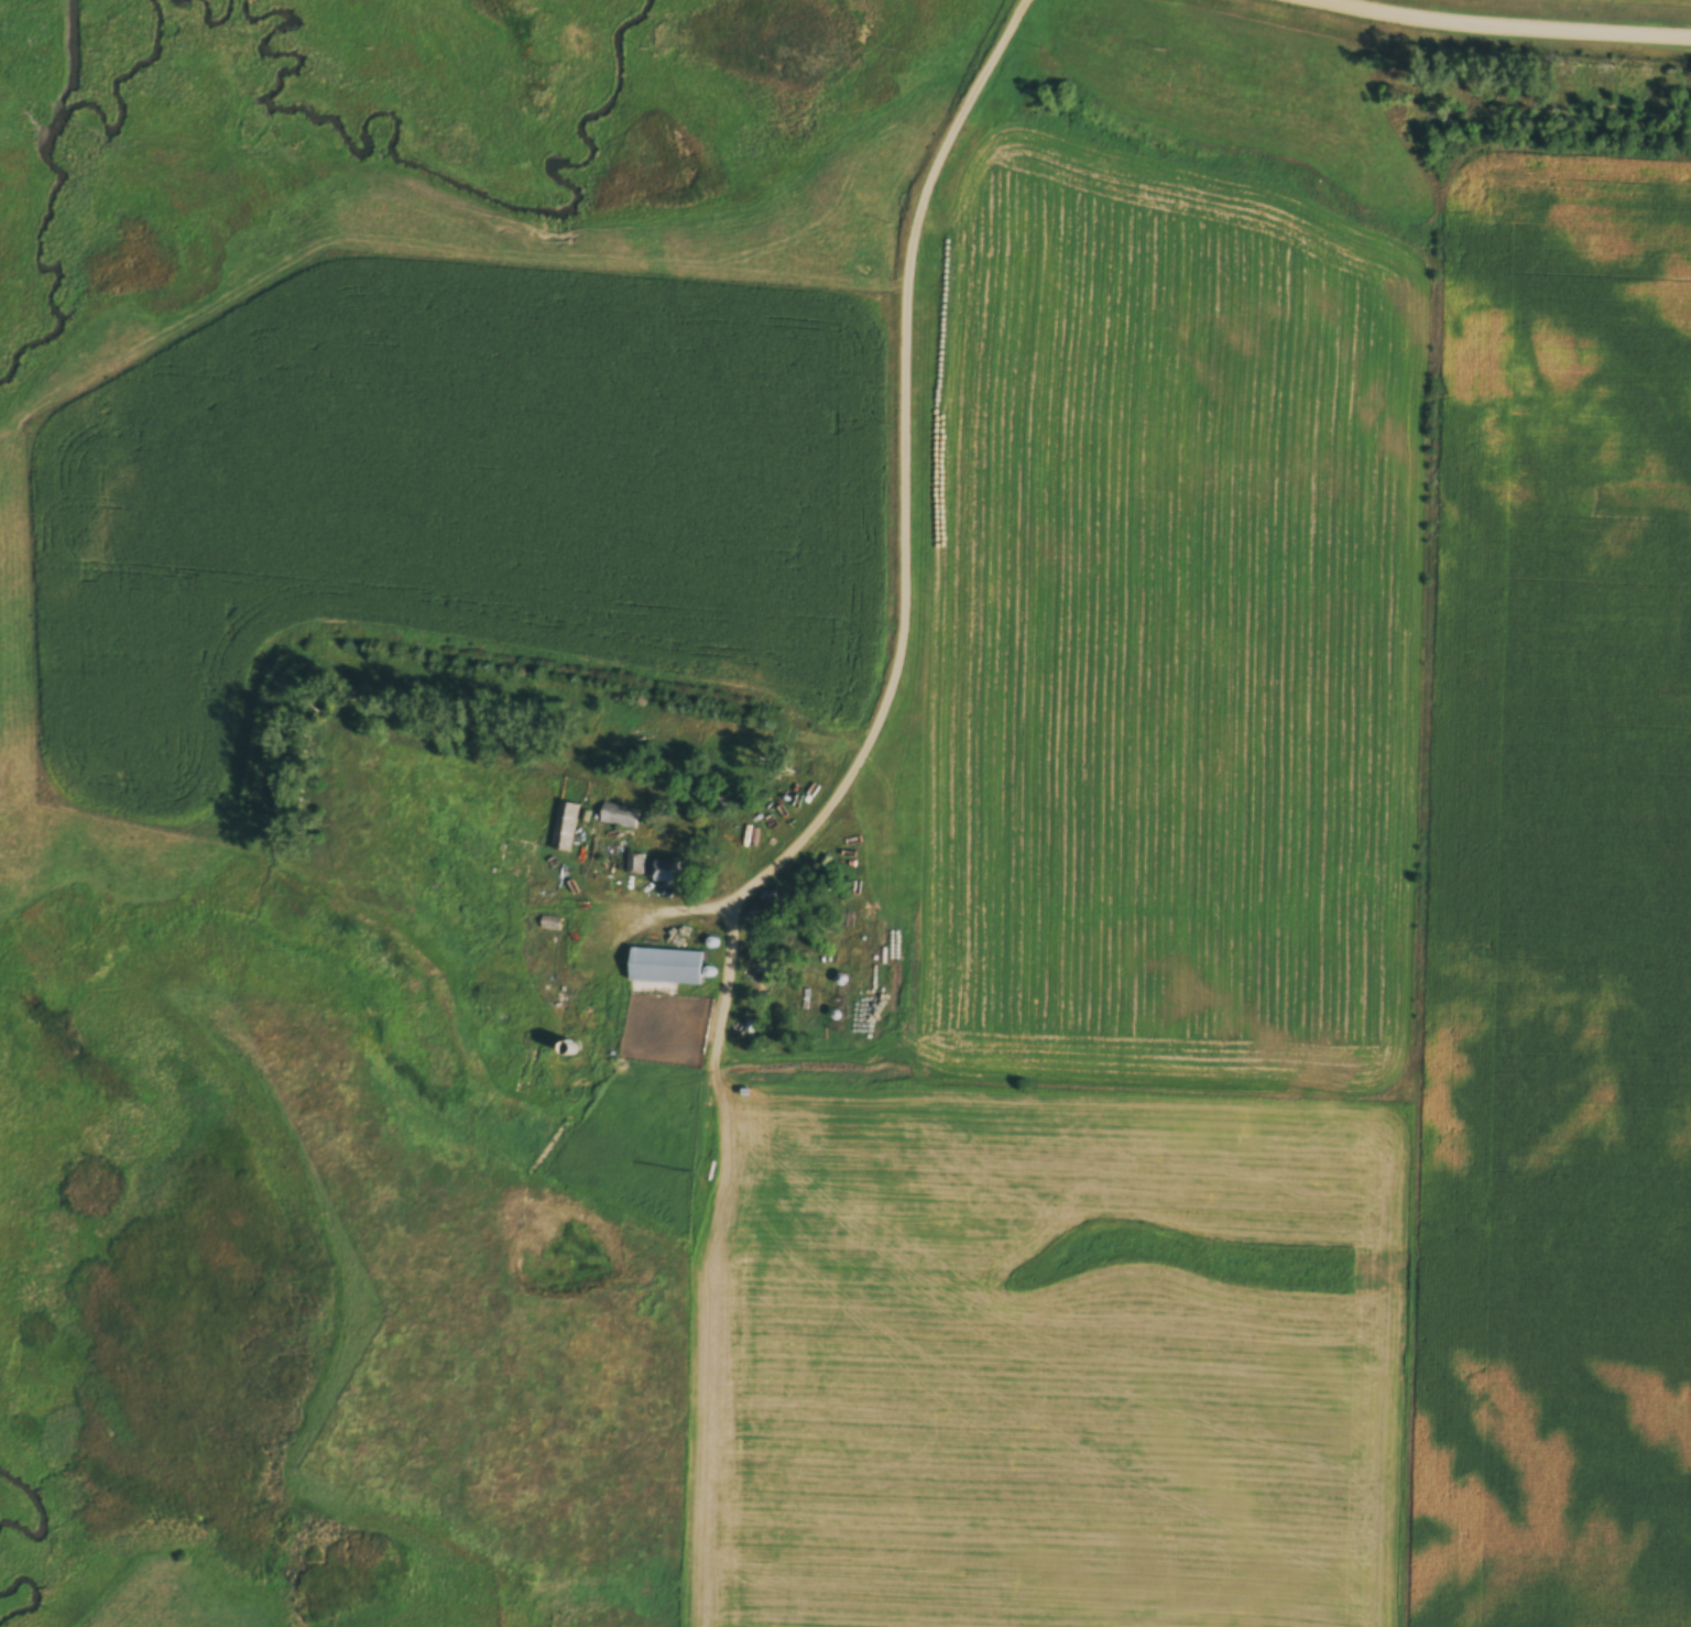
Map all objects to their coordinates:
road: (1514, 23)
road: (904, 468)
building: (620, 817)
building: (565, 829)
building: (637, 862)
building: (665, 874)
building: (665, 969)

